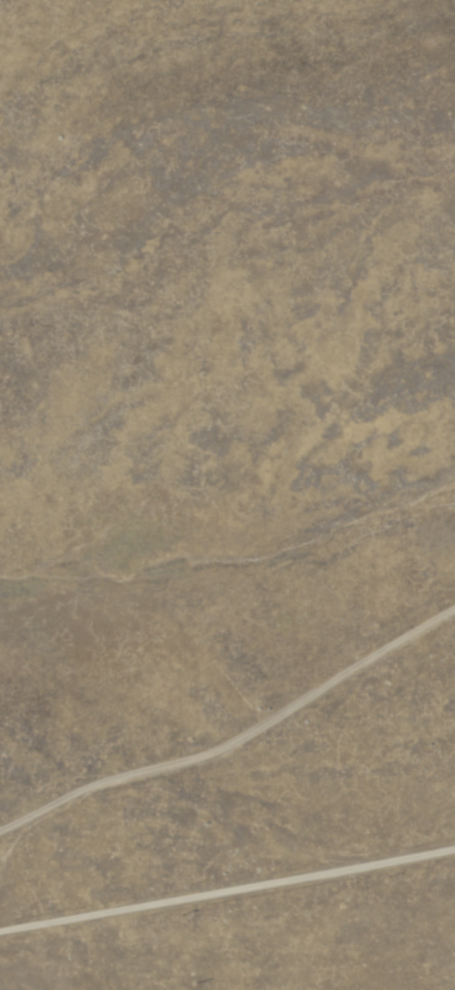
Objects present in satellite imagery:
road: (227, 891)

